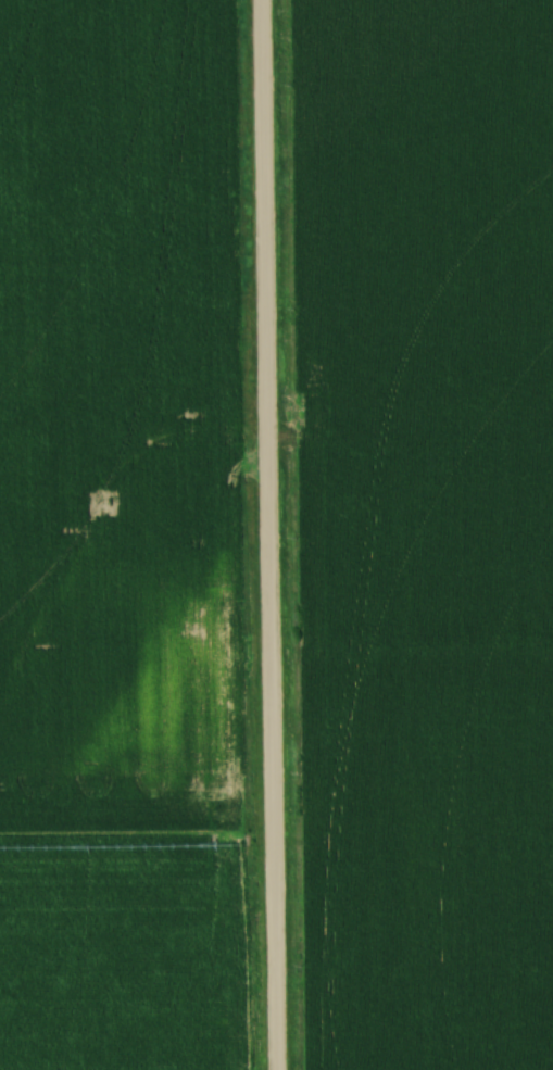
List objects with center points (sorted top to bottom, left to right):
road: (264, 534)

